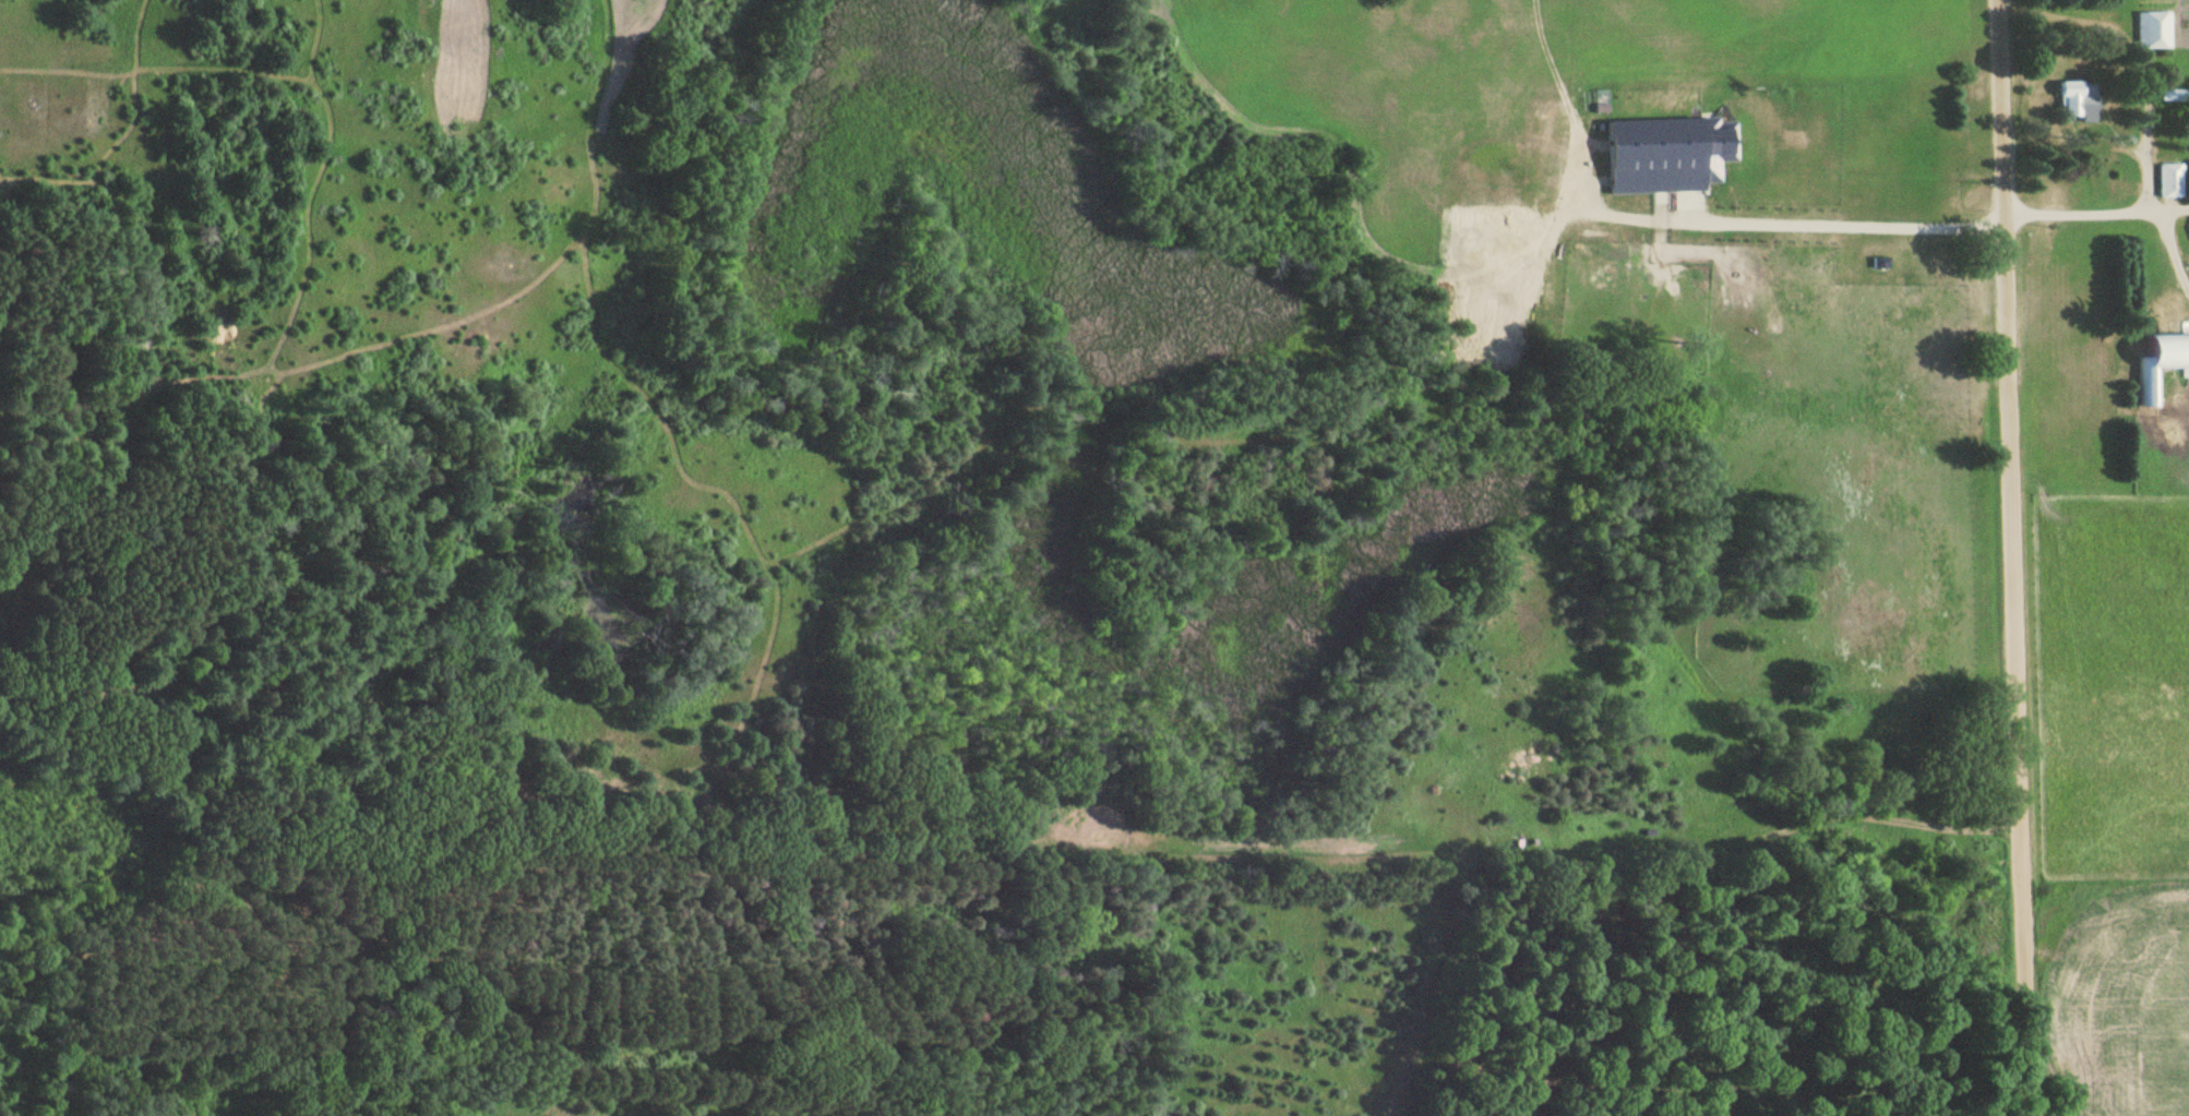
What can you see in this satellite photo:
building: (2161, 31)
building: (2175, 95)
building: (2077, 99)
building: (2172, 180)
road: (2096, 209)
building: (1880, 263)
building: (2161, 363)
road: (2014, 557)
road: (1565, 868)

